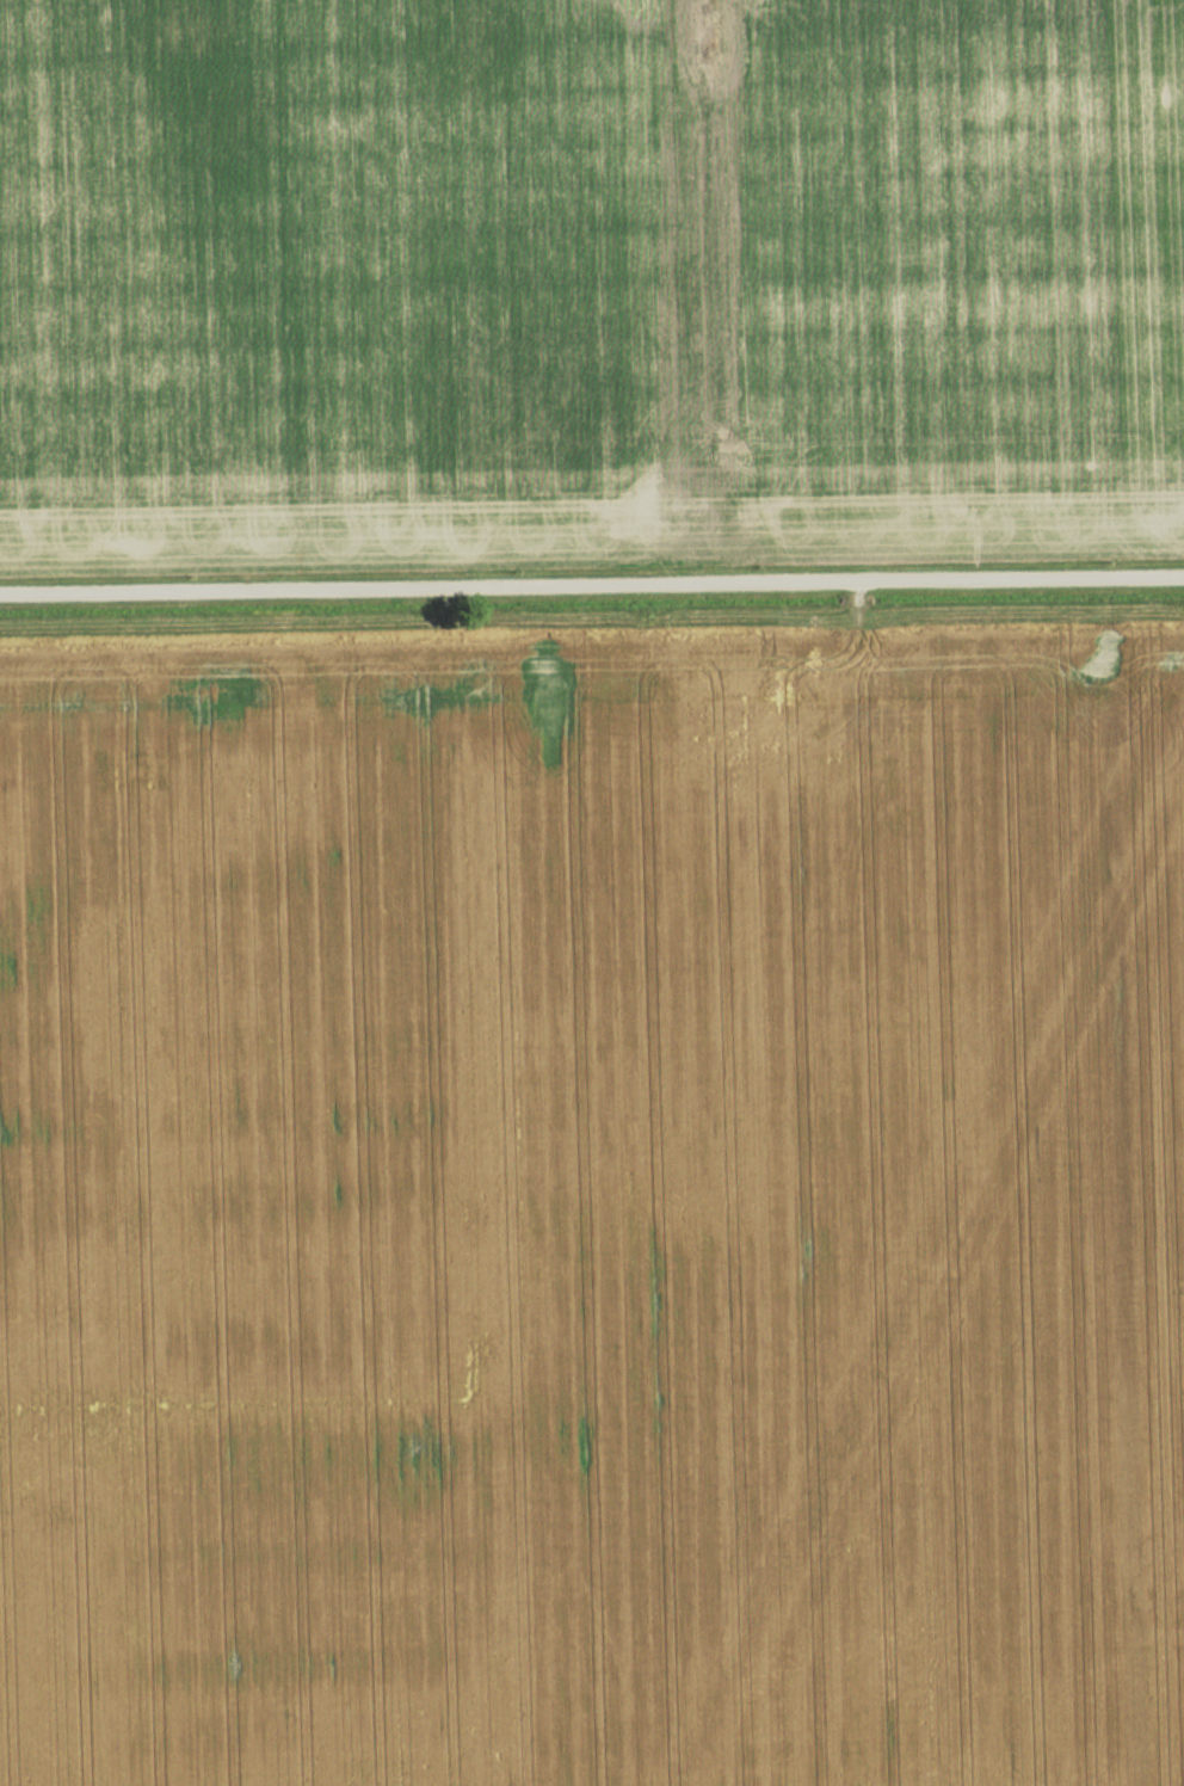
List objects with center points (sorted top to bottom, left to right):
crop: (588, 273)
road: (591, 589)
crop: (593, 1206)

